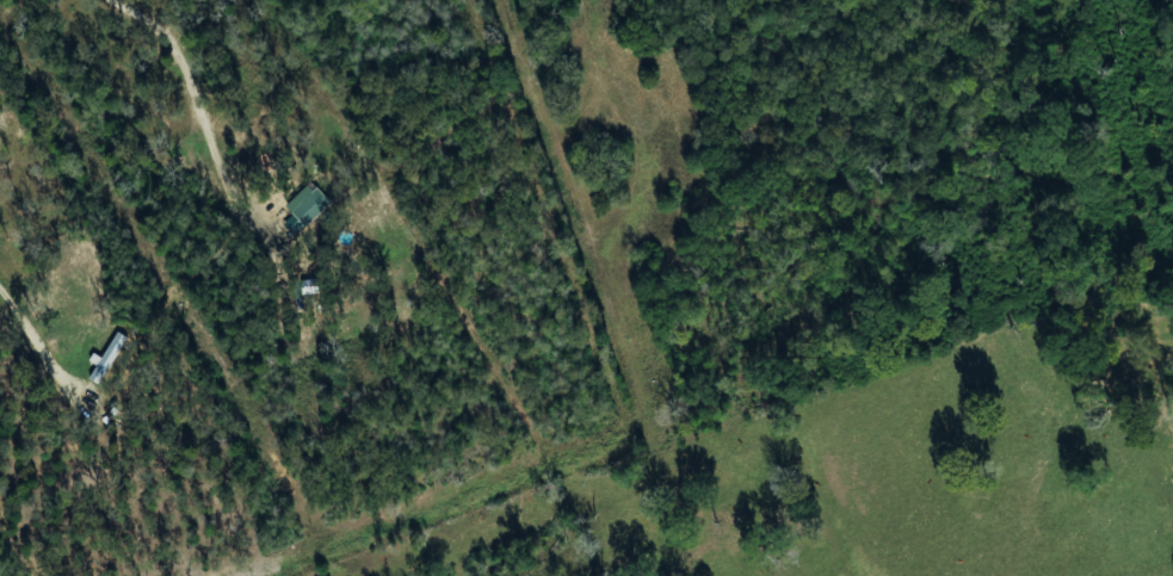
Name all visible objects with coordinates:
building: (311, 204)
road: (30, 330)
building: (111, 358)

